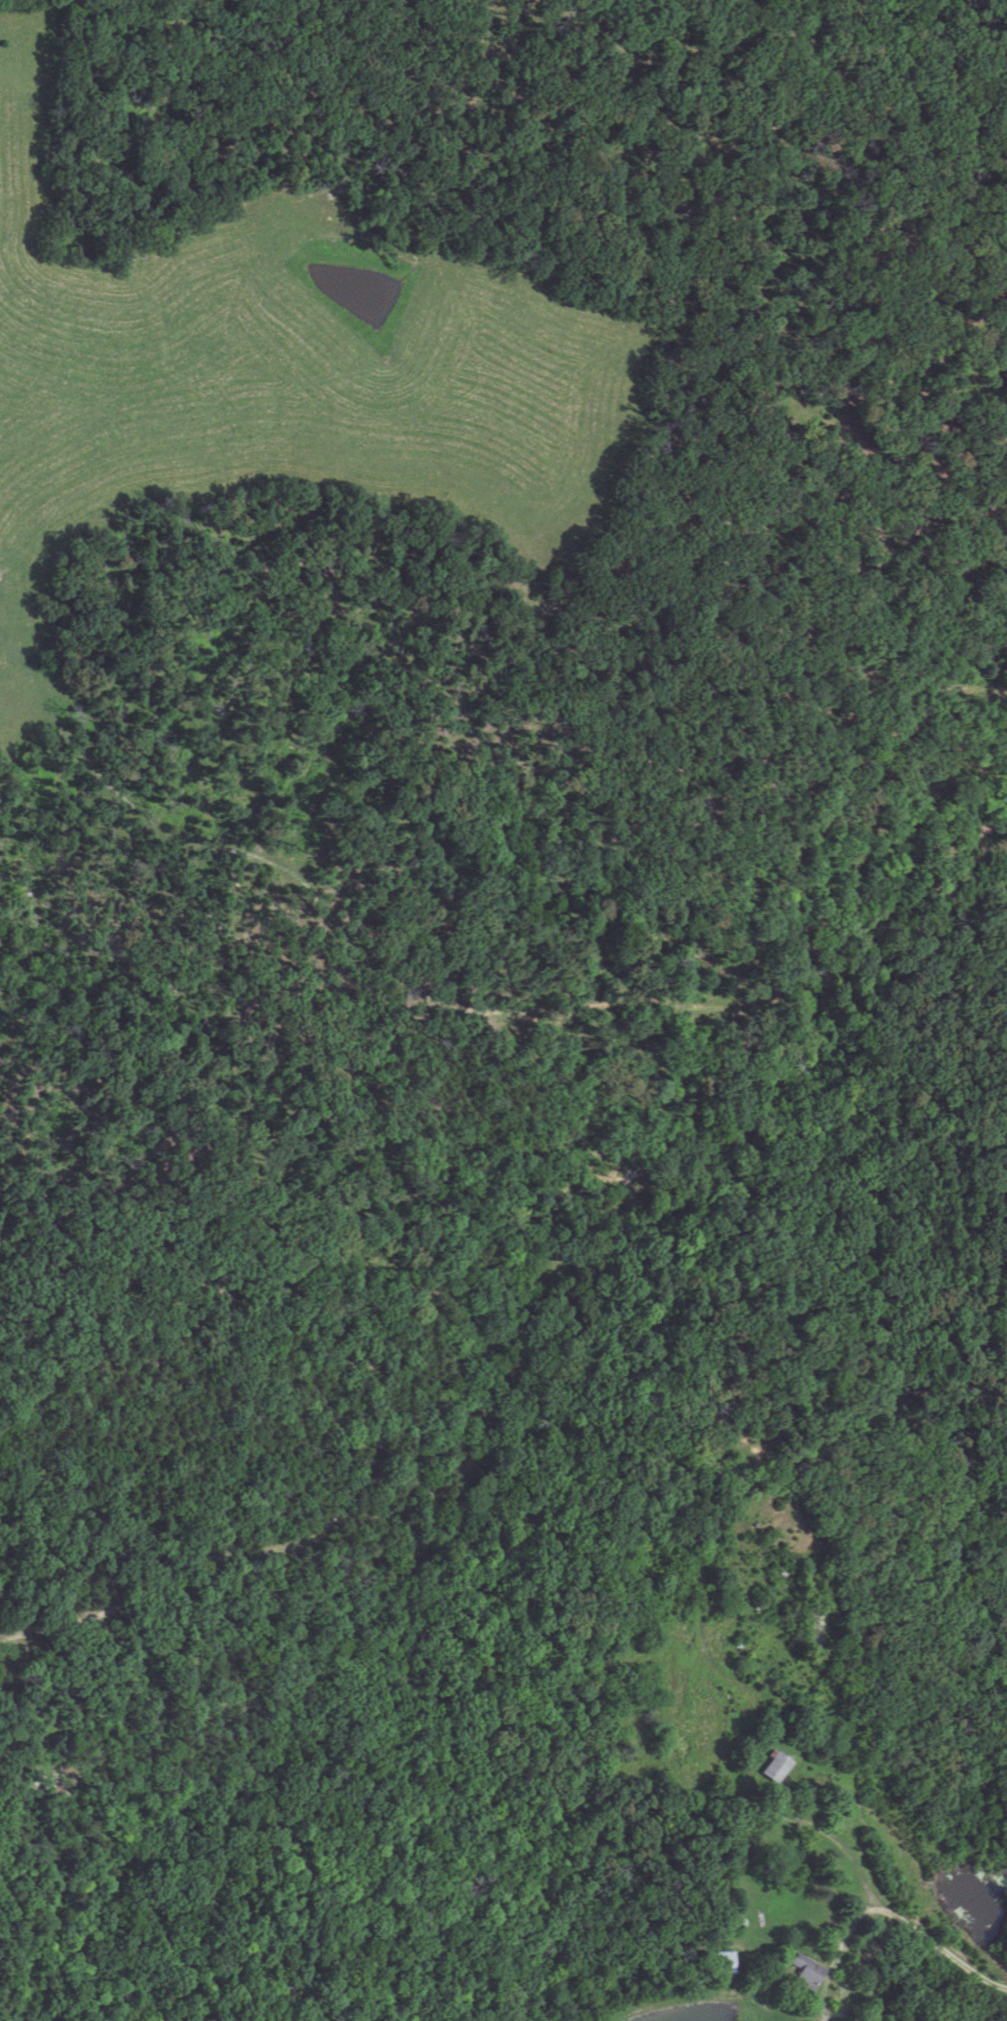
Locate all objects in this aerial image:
building: (640, 1619)
building: (776, 1769)
road: (868, 1886)
building: (720, 1965)
building: (806, 1975)
road: (825, 1985)
road: (823, 2017)
road: (839, 2018)

